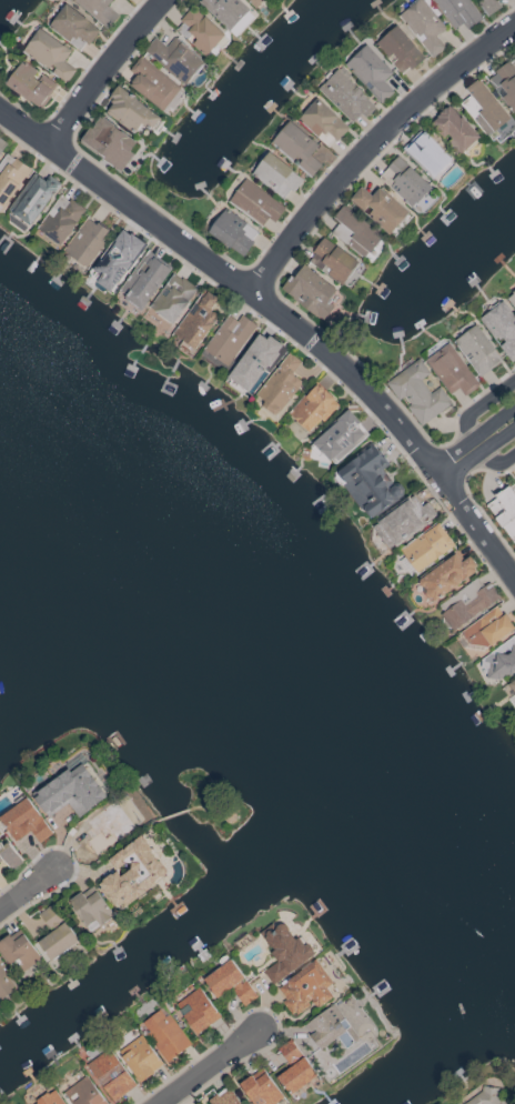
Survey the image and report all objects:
building: (125, 0)
building: (254, 2)
building: (488, 6)
building: (98, 10)
building: (225, 11)
building: (456, 11)
building: (423, 26)
building: (73, 28)
building: (199, 31)
building: (398, 49)
building: (49, 54)
building: (174, 58)
road: (104, 71)
building: (371, 72)
building: (30, 83)
building: (152, 83)
building: (505, 84)
building: (346, 97)
building: (483, 108)
building: (130, 111)
building: (322, 122)
building: (454, 130)
building: (109, 142)
building: (1, 144)
road: (371, 144)
building: (296, 148)
building: (427, 154)
building: (276, 175)
building: (10, 177)
building: (404, 182)
building: (33, 198)
building: (255, 203)
building: (380, 208)
building: (60, 220)
building: (232, 232)
building: (354, 232)
building: (85, 242)
building: (118, 259)
building: (332, 261)
road: (230, 278)
building: (143, 280)
building: (310, 292)
building: (172, 298)
building: (198, 319)
building: (502, 328)
building: (229, 338)
building: (477, 350)
building: (255, 361)
building: (451, 370)
building: (280, 384)
building: (417, 392)
building: (312, 408)
road: (468, 424)
building: (340, 438)
road: (475, 444)
building: (368, 481)
building: (504, 510)
building: (407, 520)
road: (475, 524)
building: (427, 548)
building: (447, 575)
building: (467, 602)
building: (488, 628)
building: (501, 660)
building: (513, 685)
building: (71, 791)
road: (203, 810)
road: (174, 814)
building: (23, 820)
building: (95, 830)
building: (1, 833)
road: (108, 845)
building: (10, 855)
building: (135, 874)
road: (27, 889)
building: (91, 907)
building: (57, 933)
building: (285, 950)
building: (14, 960)
building: (229, 981)
building: (306, 987)
building: (199, 1010)
building: (331, 1027)
building: (165, 1034)
building: (140, 1057)
road: (205, 1066)
building: (294, 1068)
building: (109, 1072)
building: (261, 1088)
building: (83, 1093)
building: (487, 1093)
building: (224, 1097)
building: (50, 1098)
building: (458, 1103)

